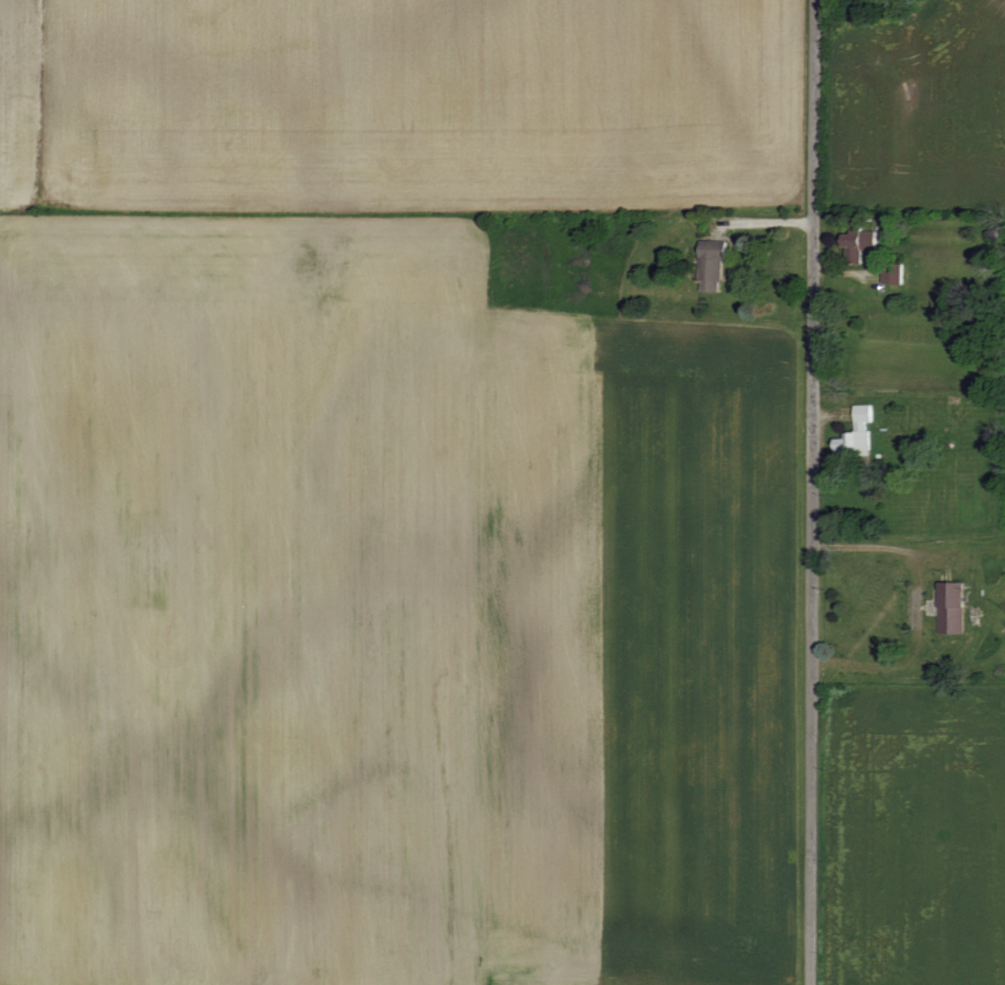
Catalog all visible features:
road: (814, 105)
building: (858, 246)
building: (716, 266)
building: (860, 433)
road: (876, 547)
road: (812, 597)
building: (955, 607)

